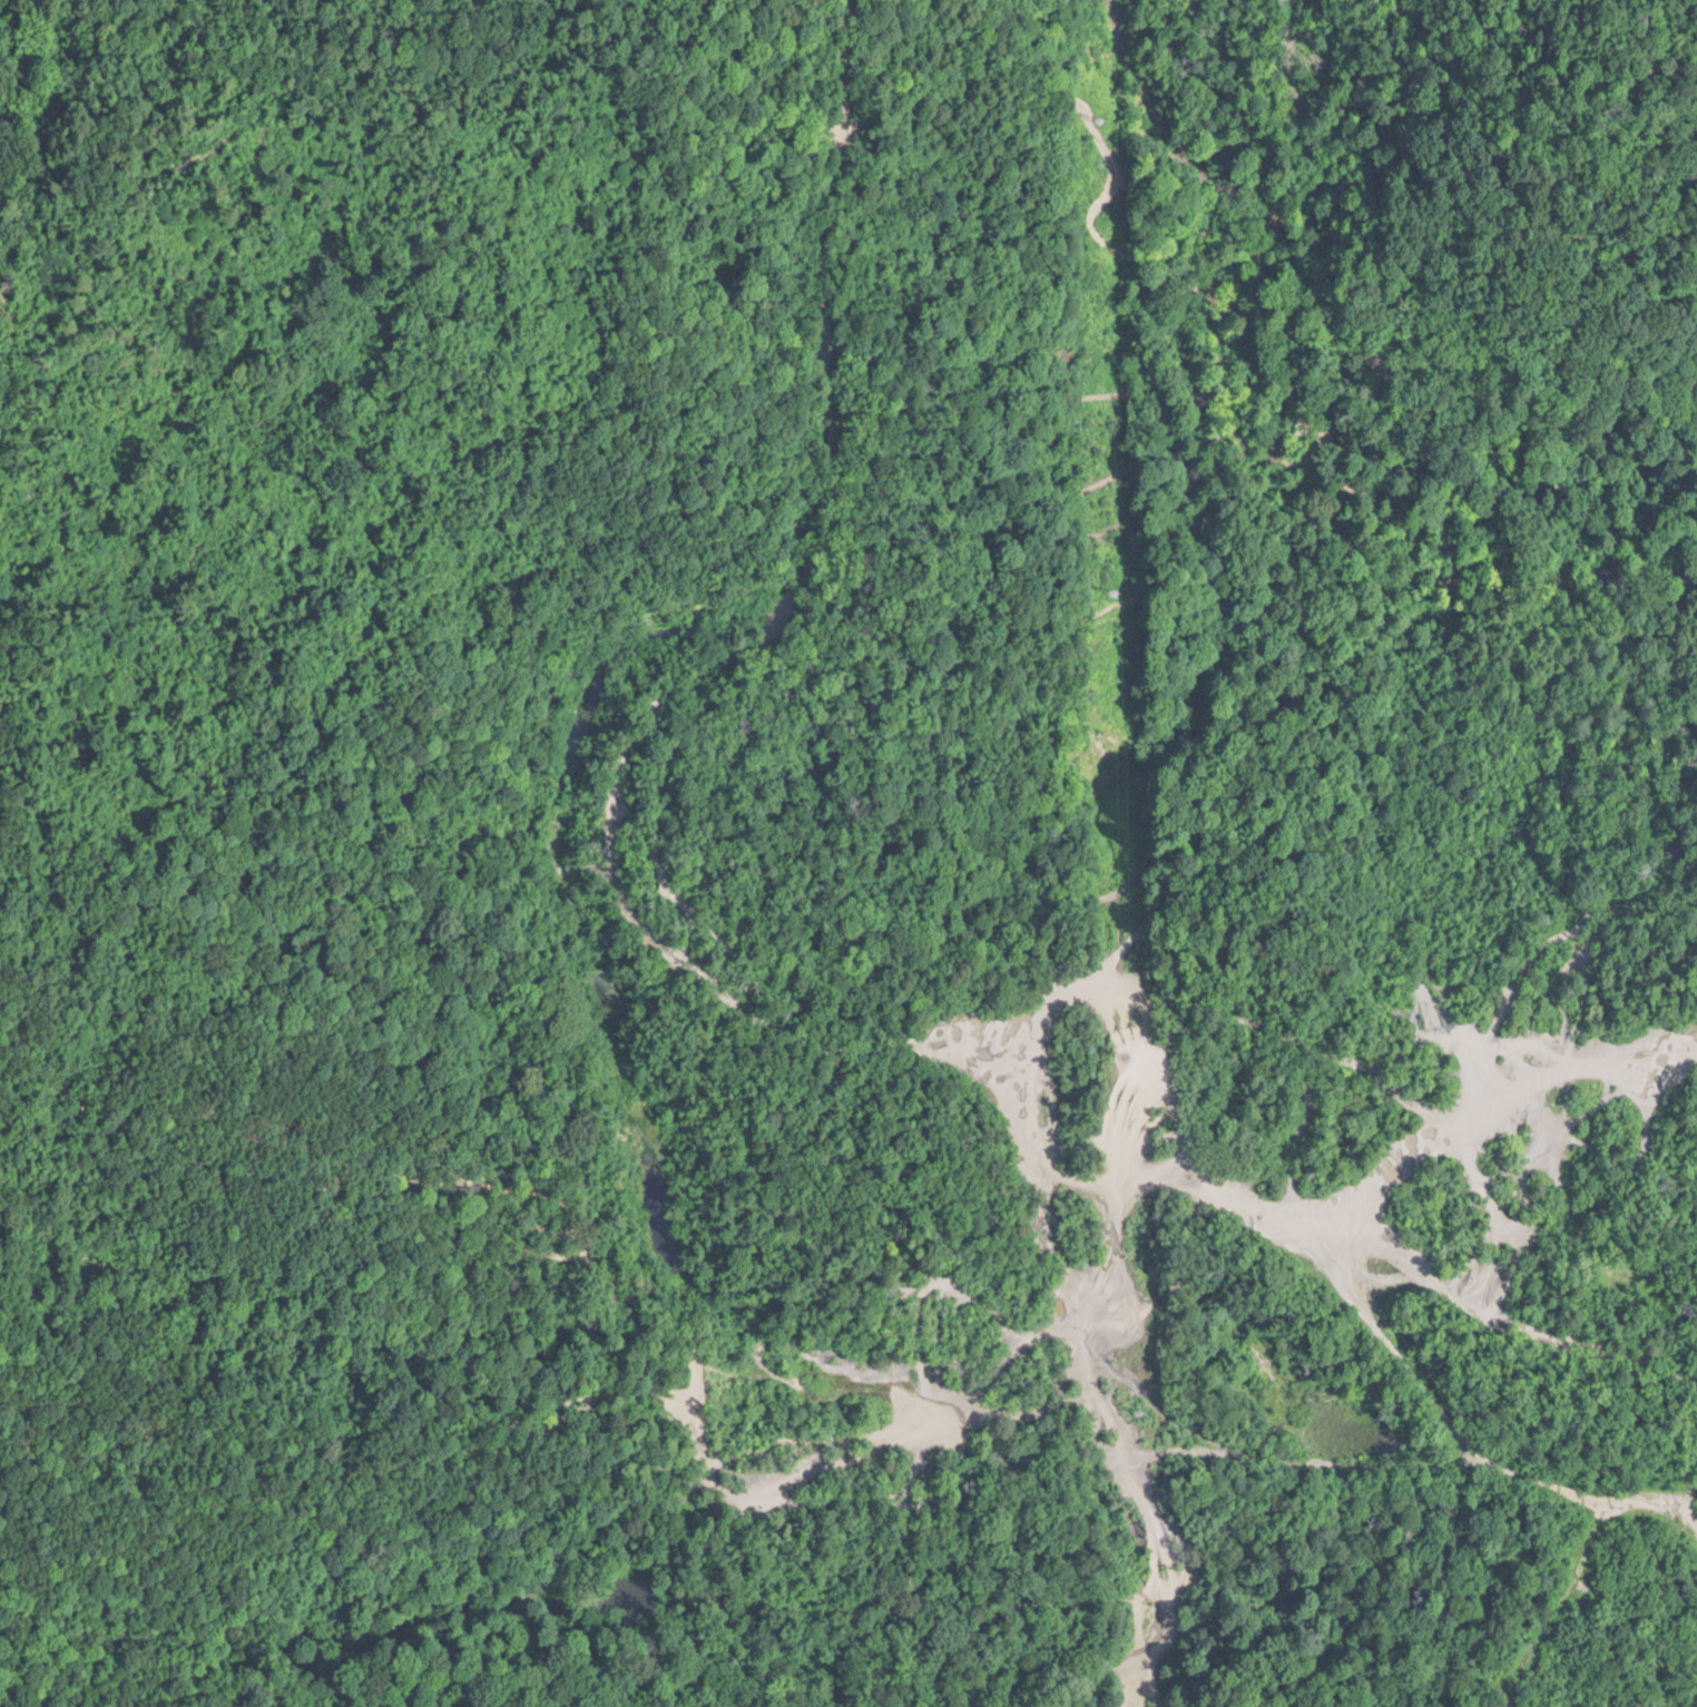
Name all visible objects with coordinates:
power tower: (1102, 117)
road: (1228, 467)
power tower: (1118, 590)
road: (694, 1010)
power tower: (1144, 1409)
road: (1348, 1485)
road: (1302, 1593)

